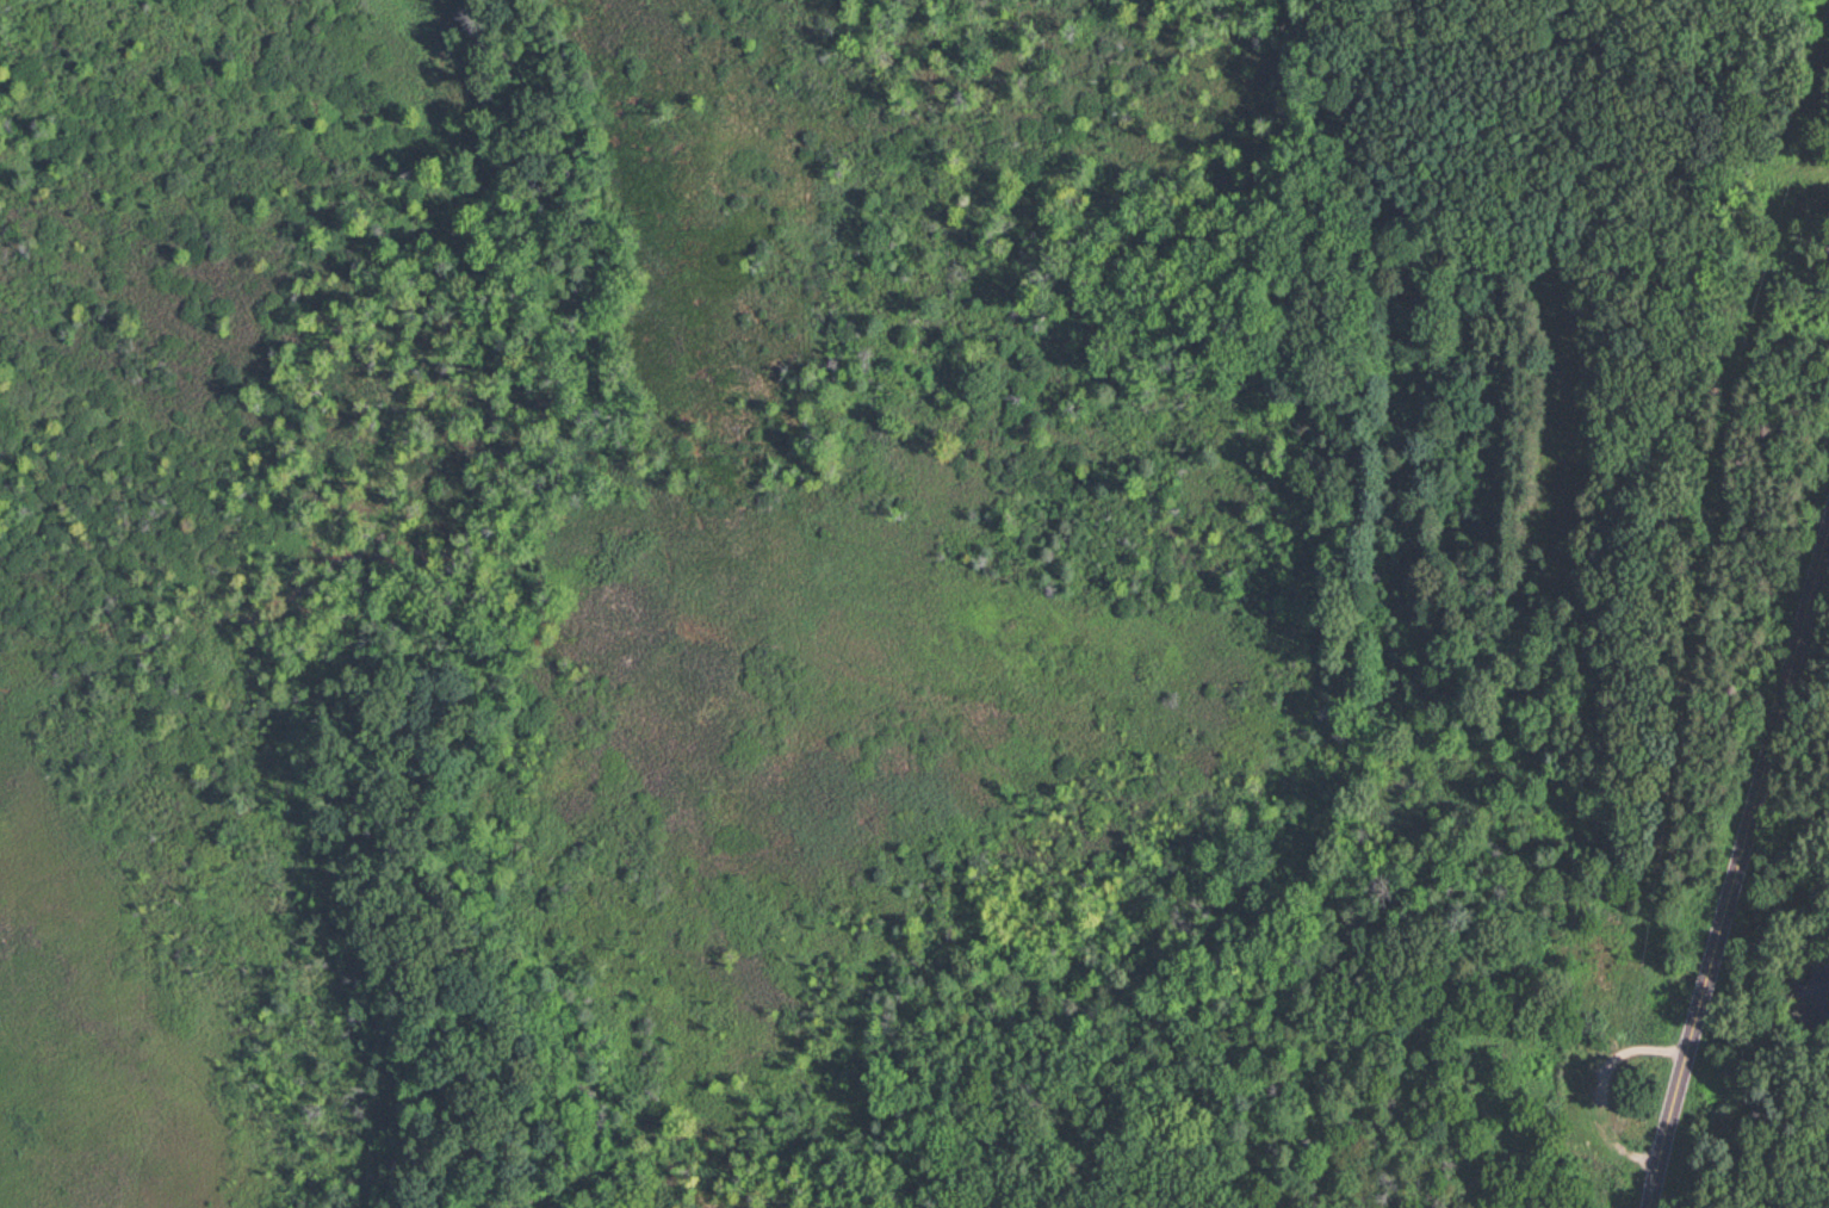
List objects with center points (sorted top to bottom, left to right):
road: (1738, 879)

